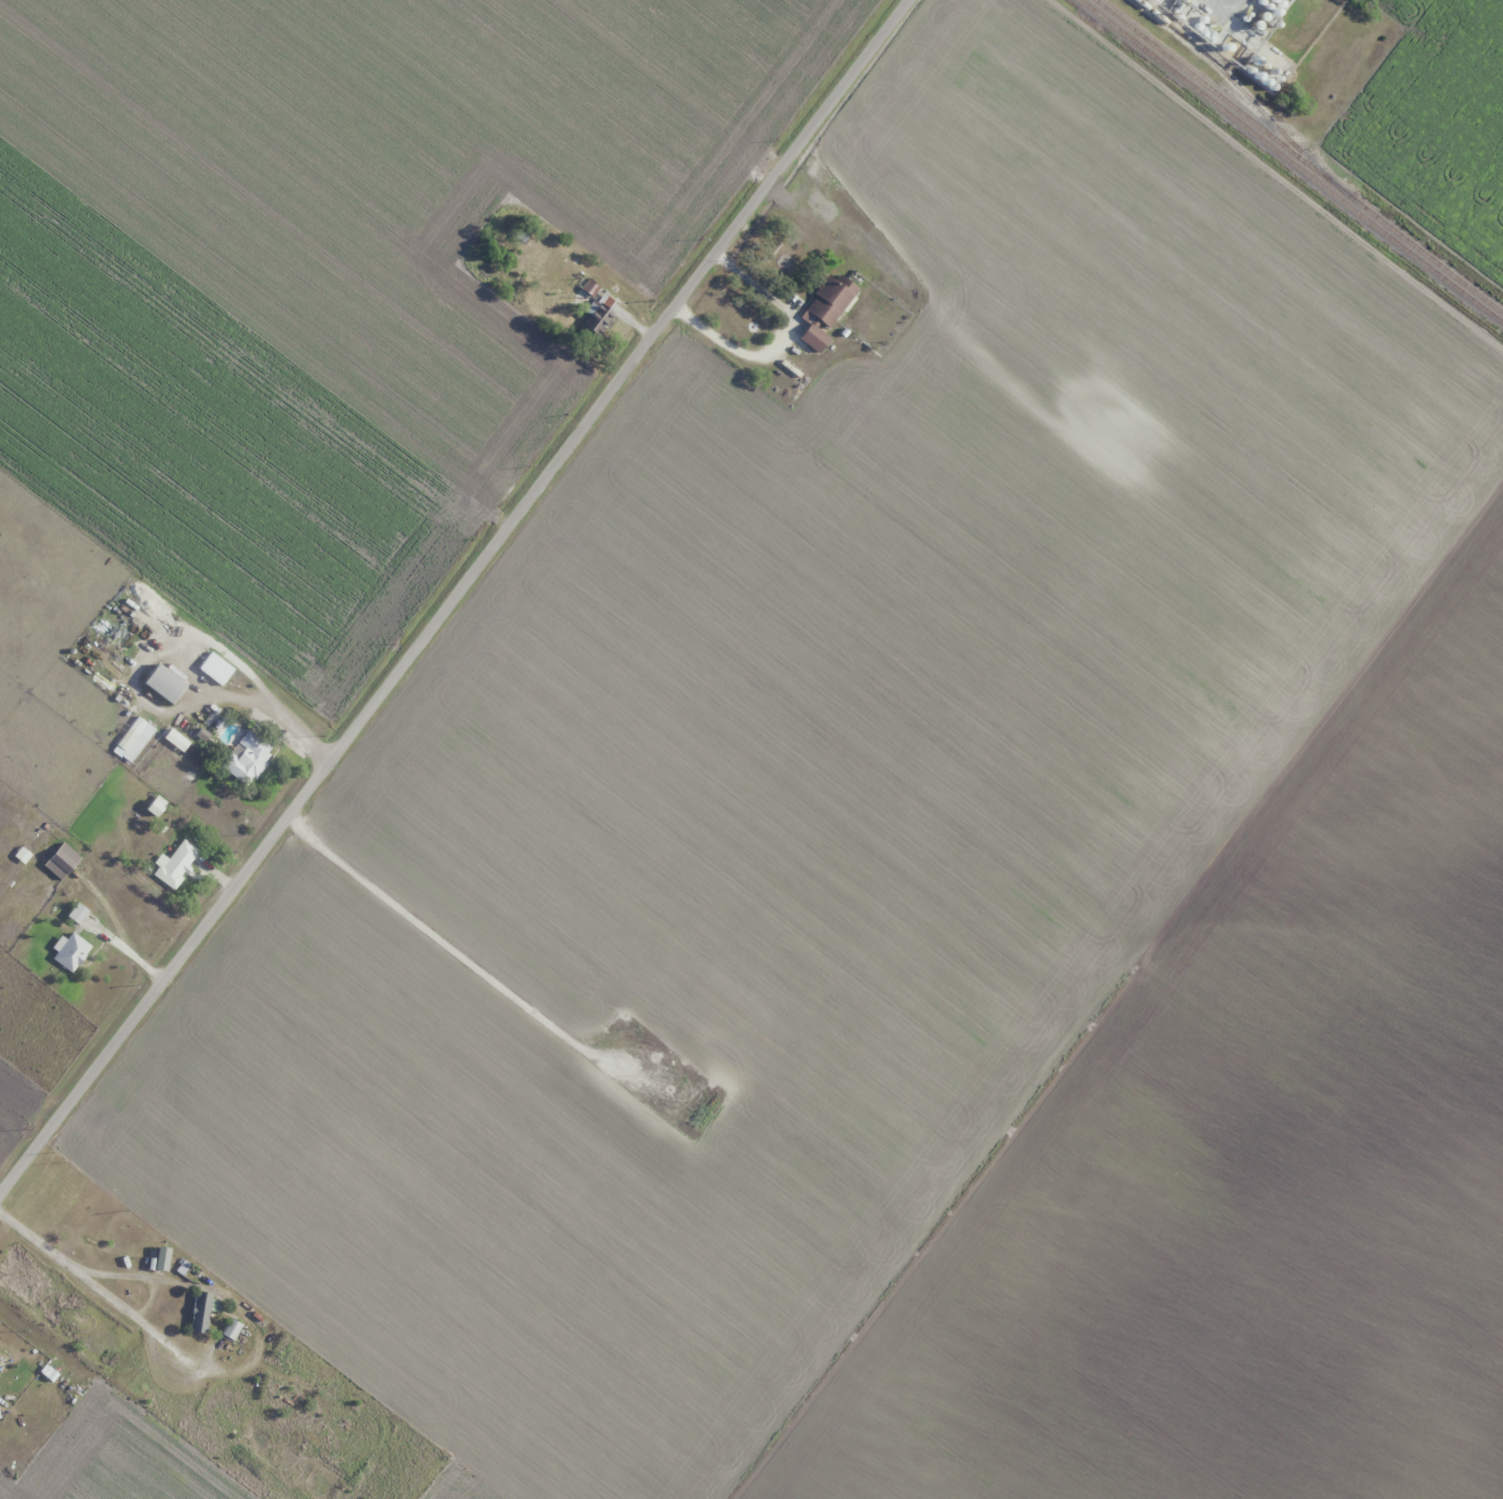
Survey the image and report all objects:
road: (1143, 65)
railway: (1234, 81)
crop: (1435, 128)
railway: (1297, 157)
railway: (1290, 162)
crop: (319, 306)
building: (826, 309)
building: (598, 316)
road: (781, 345)
road: (459, 597)
building: (216, 667)
building: (164, 683)
building: (133, 739)
building: (246, 757)
building: (60, 861)
building: (176, 863)
crop: (927, 887)
building: (77, 913)
road: (126, 951)
building: (71, 952)
crop: (33, 1045)
road: (95, 1287)
building: (202, 1311)
building: (230, 1330)
crop: (123, 1460)

